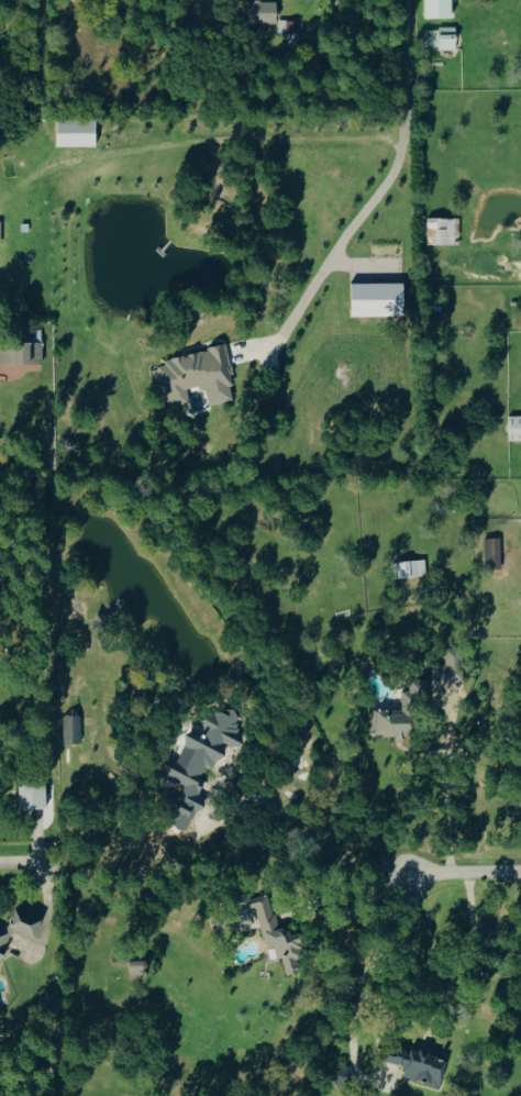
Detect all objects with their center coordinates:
road: (288, 4)
building: (440, 9)
building: (264, 12)
building: (290, 30)
building: (442, 38)
building: (77, 133)
road: (224, 140)
road: (377, 193)
building: (444, 232)
building: (1, 233)
building: (378, 300)
building: (22, 354)
building: (199, 377)
building: (516, 429)
building: (495, 552)
building: (411, 569)
building: (450, 665)
building: (399, 713)
building: (73, 728)
building: (209, 751)
building: (34, 795)
road: (448, 798)
road: (321, 837)
road: (26, 867)
road: (465, 874)
road: (358, 909)
road: (48, 918)
building: (19, 929)
building: (276, 932)
road: (363, 981)
building: (421, 1065)

